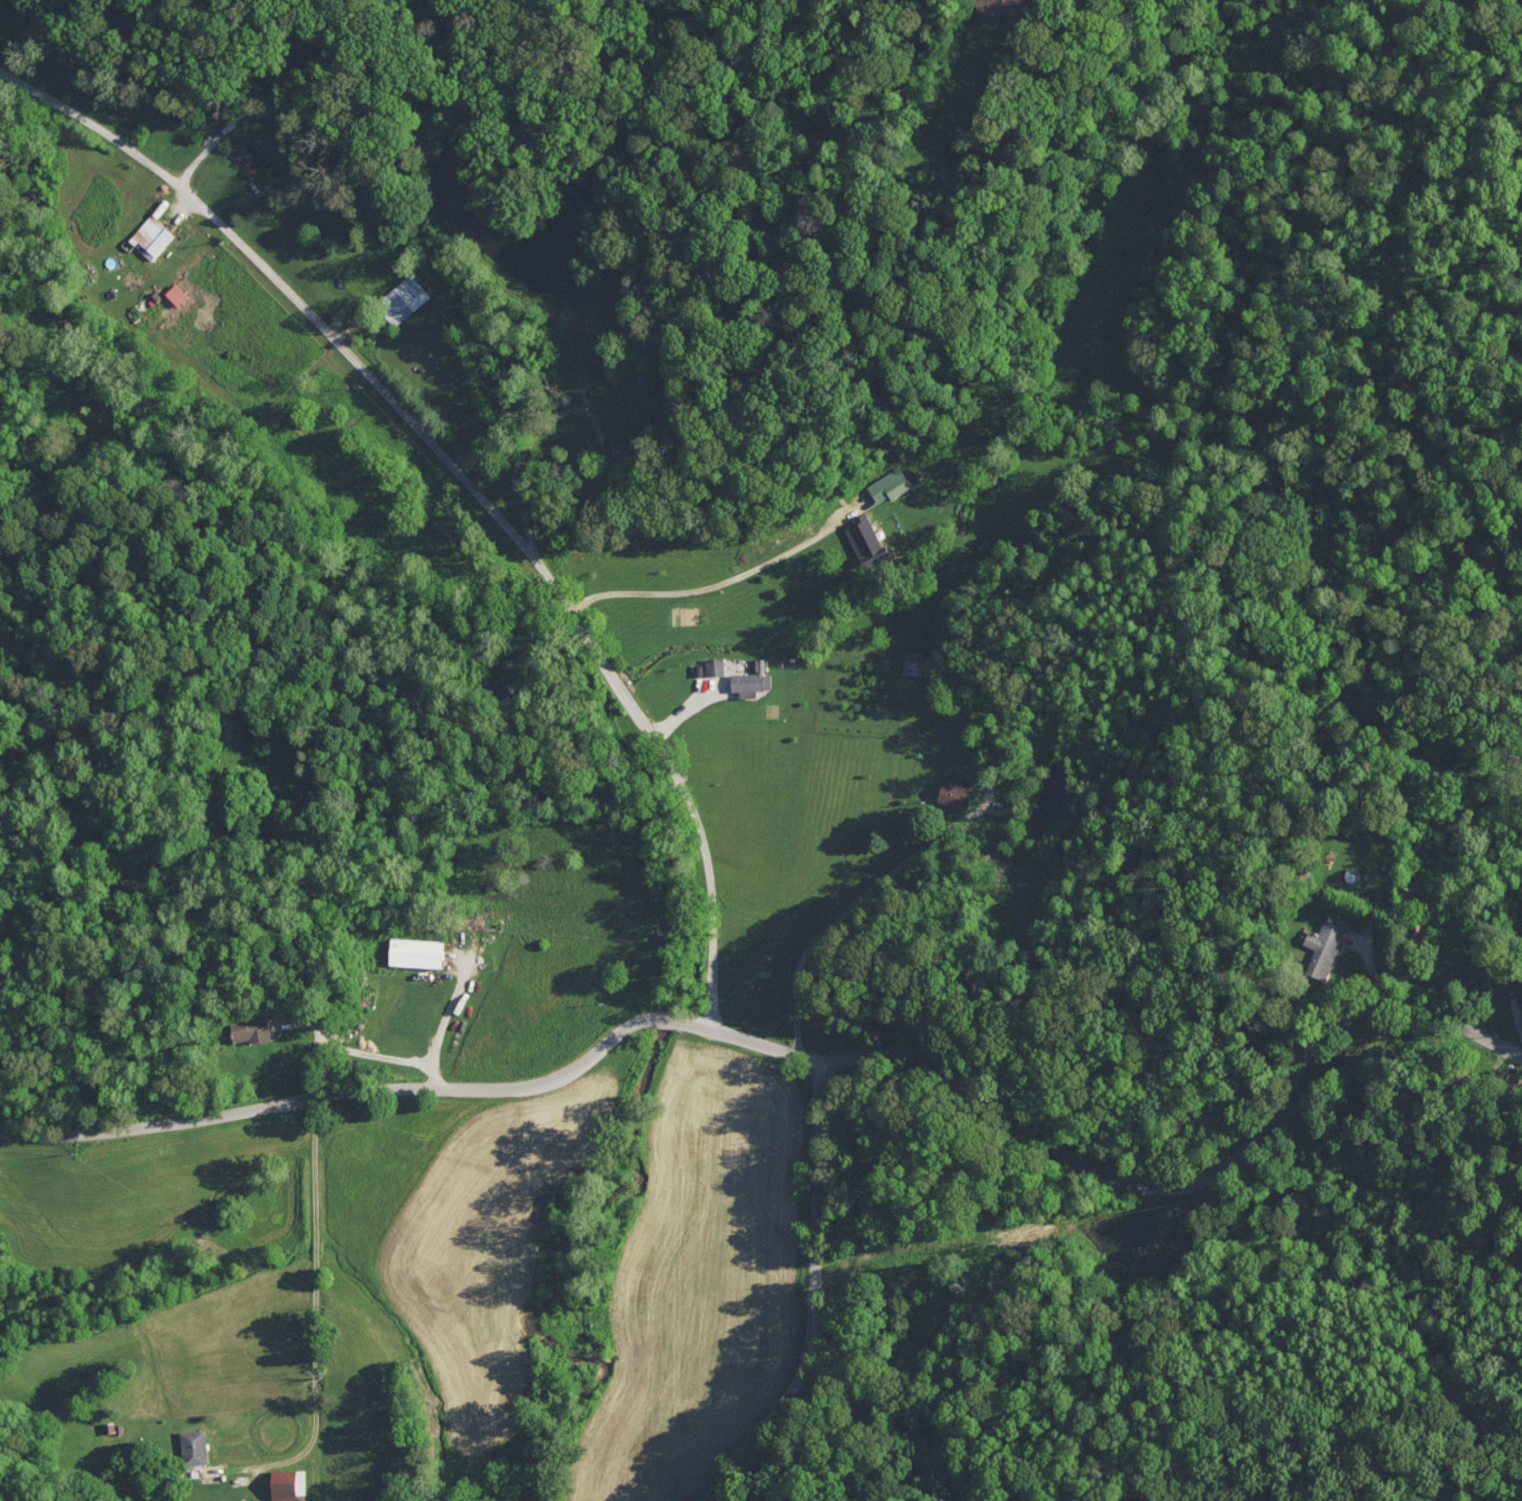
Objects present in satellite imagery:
building: (995, 10)
building: (253, 158)
building: (151, 237)
road: (294, 288)
building: (403, 299)
building: (614, 455)
building: (888, 485)
building: (866, 541)
road: (713, 586)
building: (915, 662)
building: (715, 666)
road: (616, 681)
building: (750, 683)
building: (955, 791)
road: (854, 906)
building: (1322, 948)
building: (416, 951)
road: (1371, 966)
building: (1475, 969)
road: (439, 1026)
building: (251, 1029)
road: (352, 1047)
road: (370, 1092)
road: (1157, 1184)
road: (817, 1298)
road: (320, 1327)
building: (193, 1446)
building: (287, 1484)

